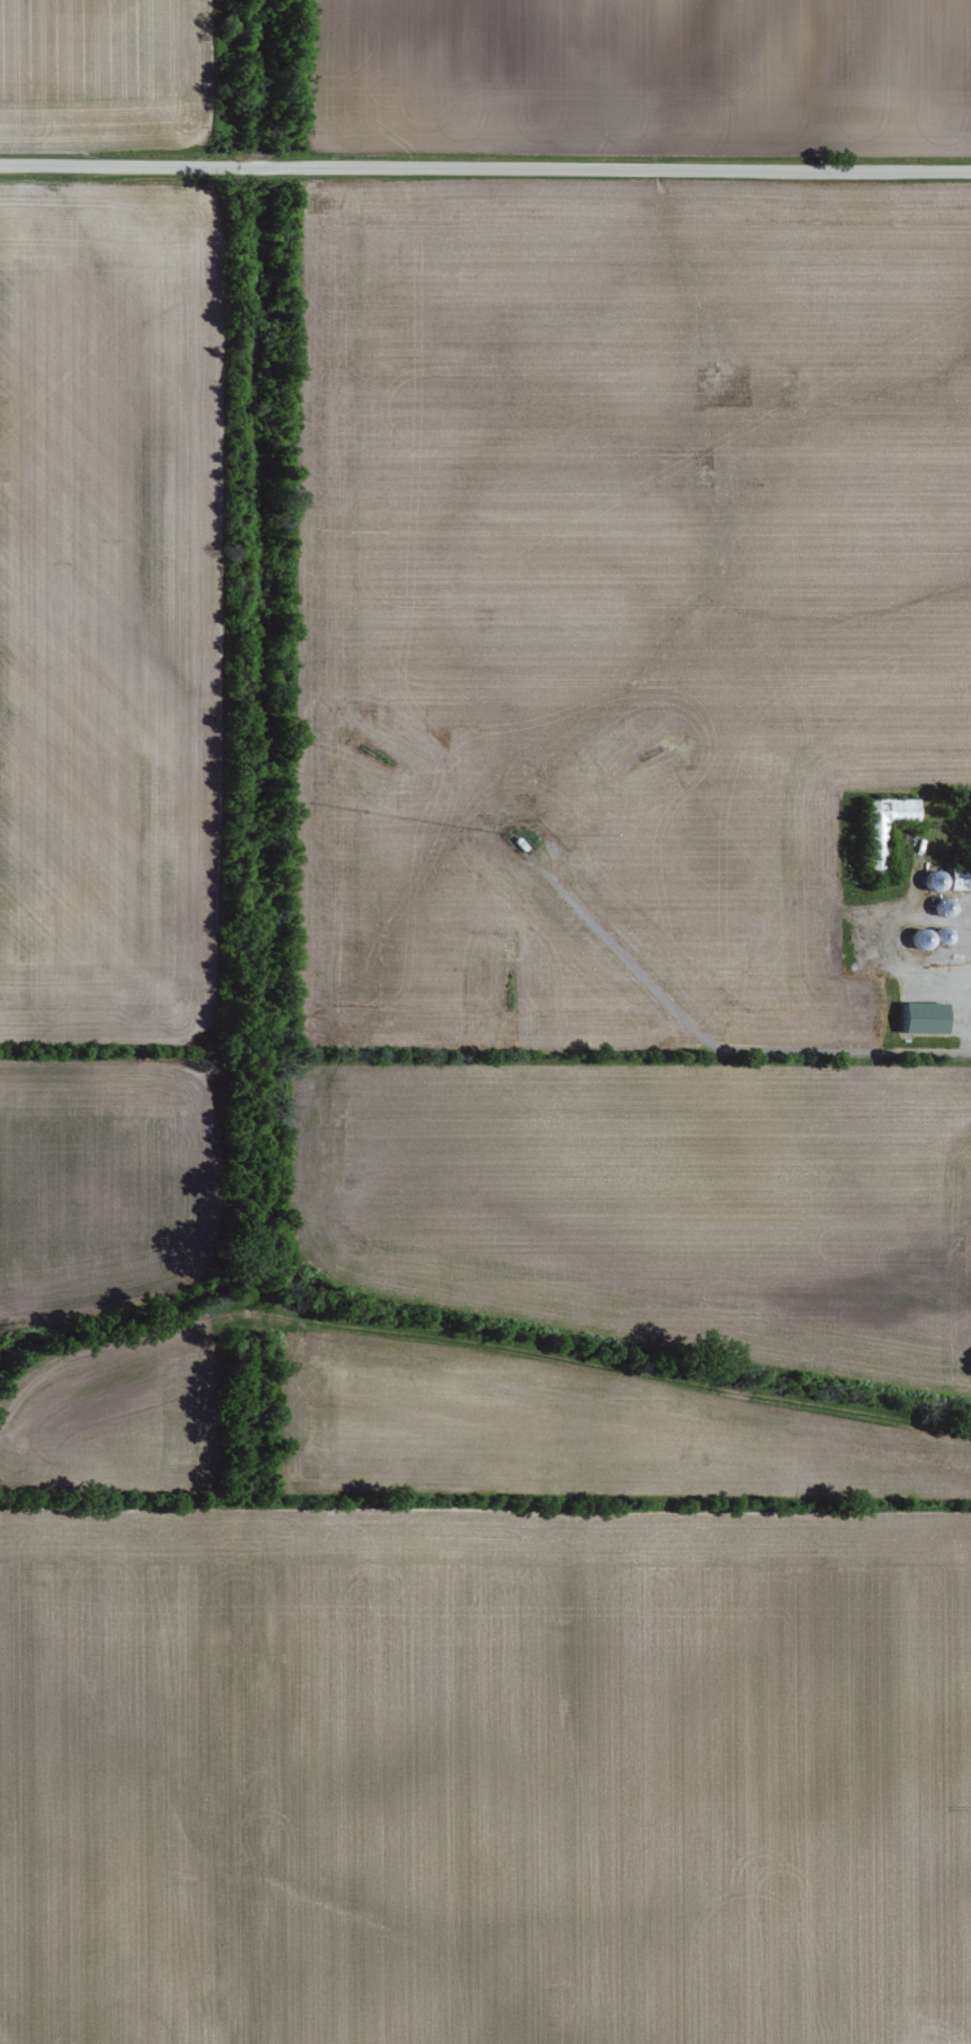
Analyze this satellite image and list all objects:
road: (485, 170)
building: (890, 815)
building: (927, 1017)

